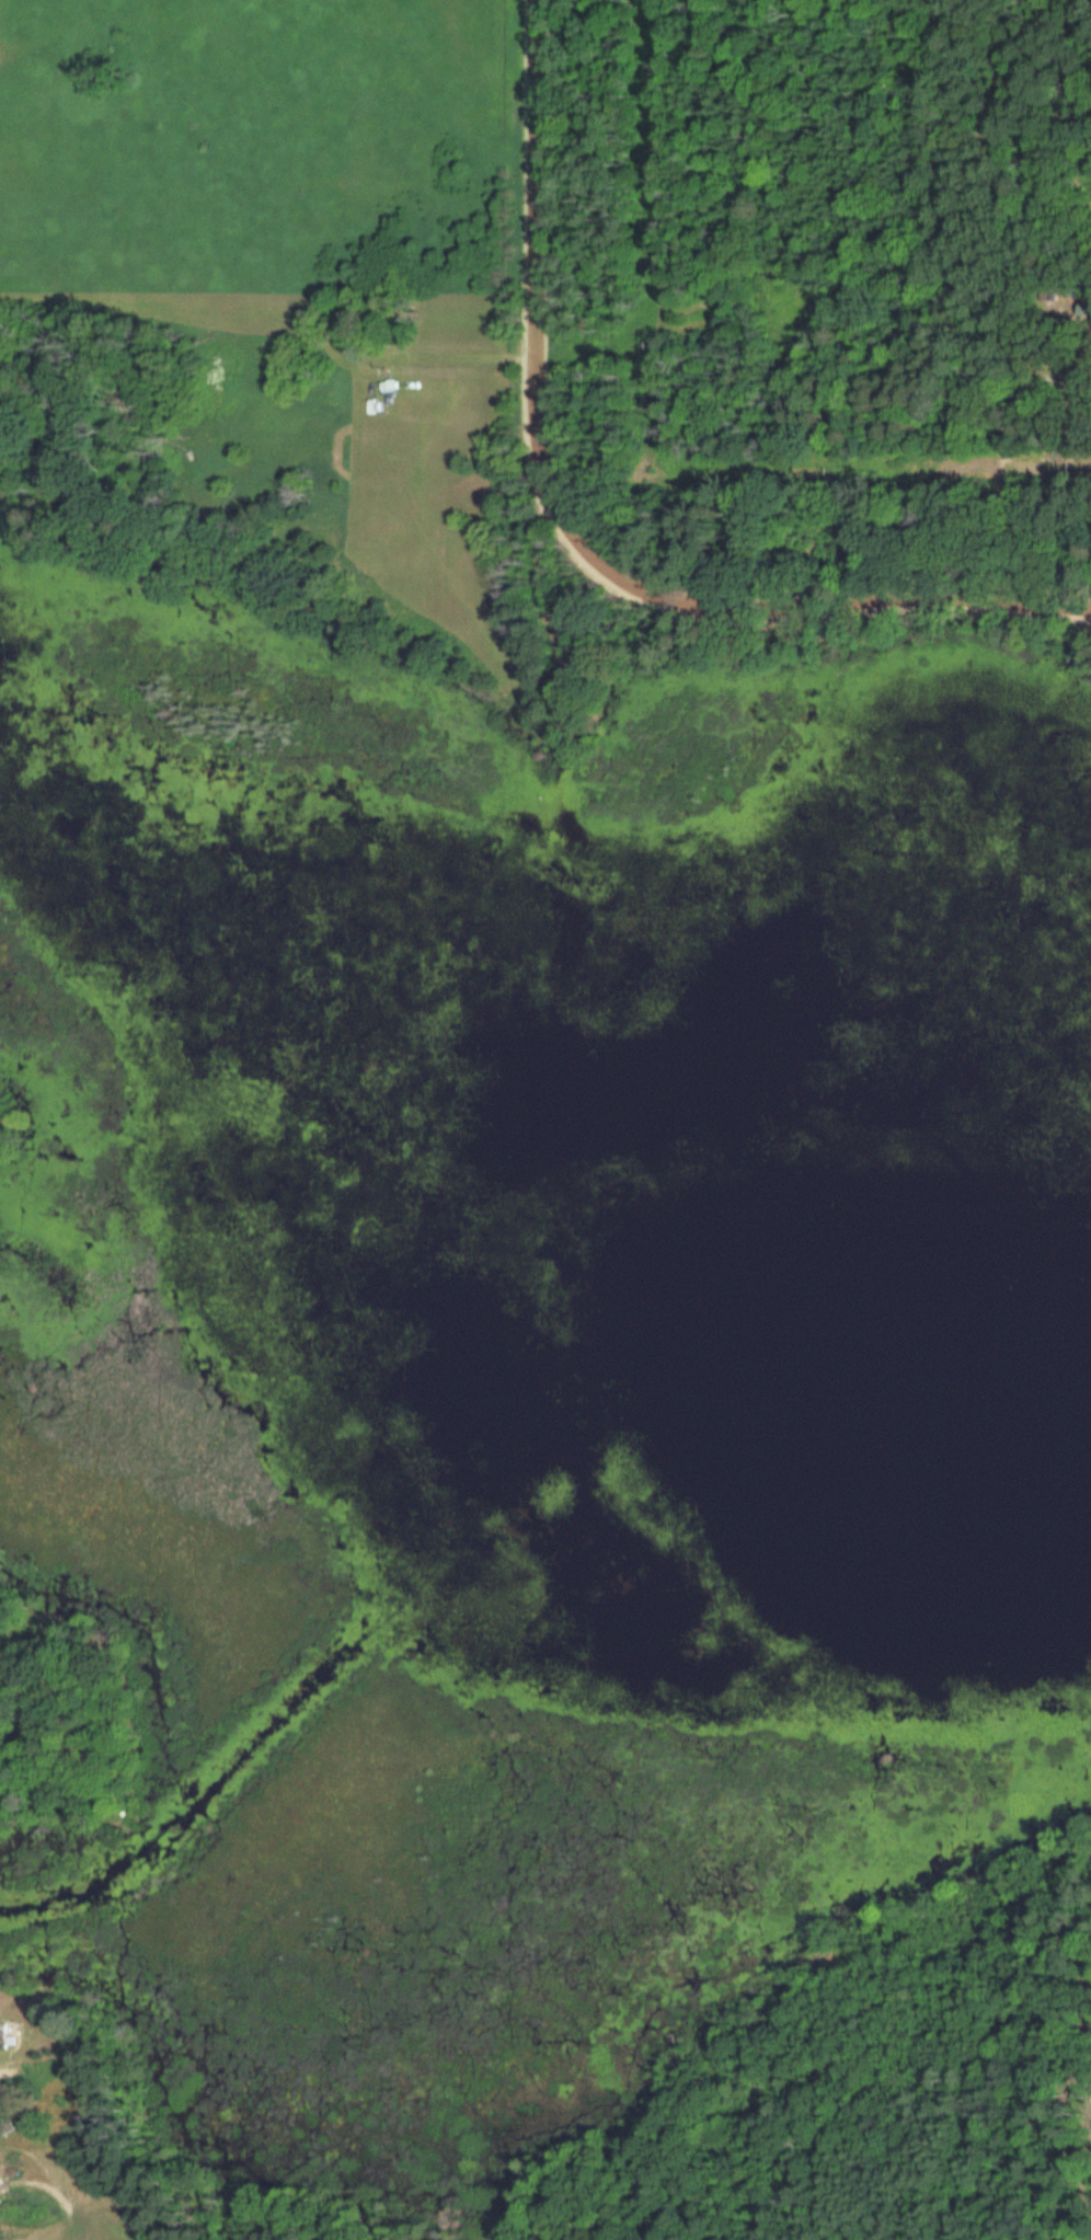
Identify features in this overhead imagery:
road: (576, 531)
building: (3, 2035)
road: (23, 2074)
building: (1, 2187)

